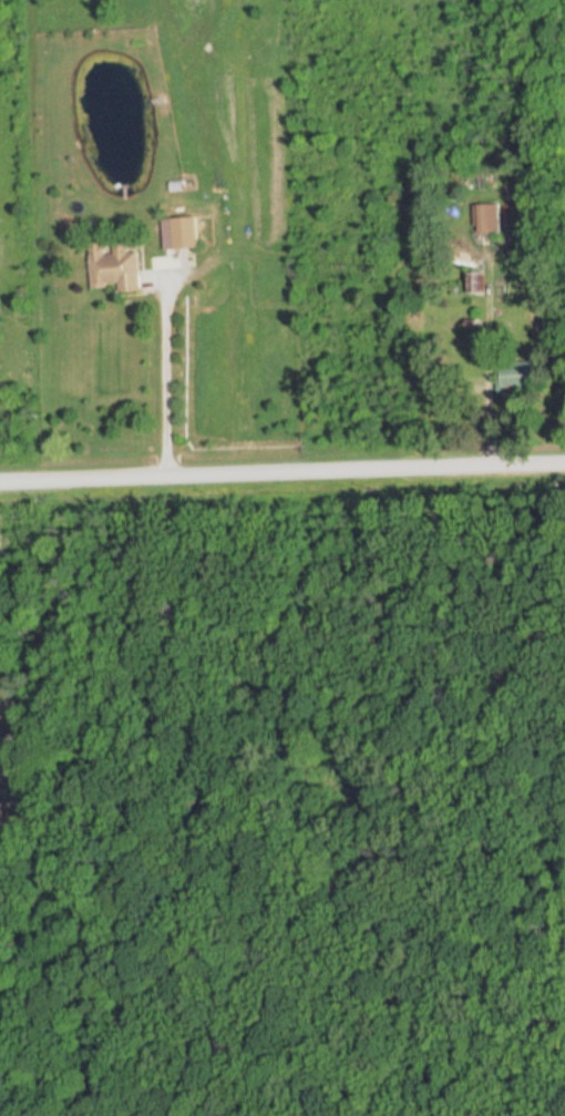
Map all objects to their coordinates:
building: (486, 218)
building: (181, 234)
building: (114, 266)
building: (476, 284)
building: (514, 375)
road: (166, 376)
road: (282, 472)

